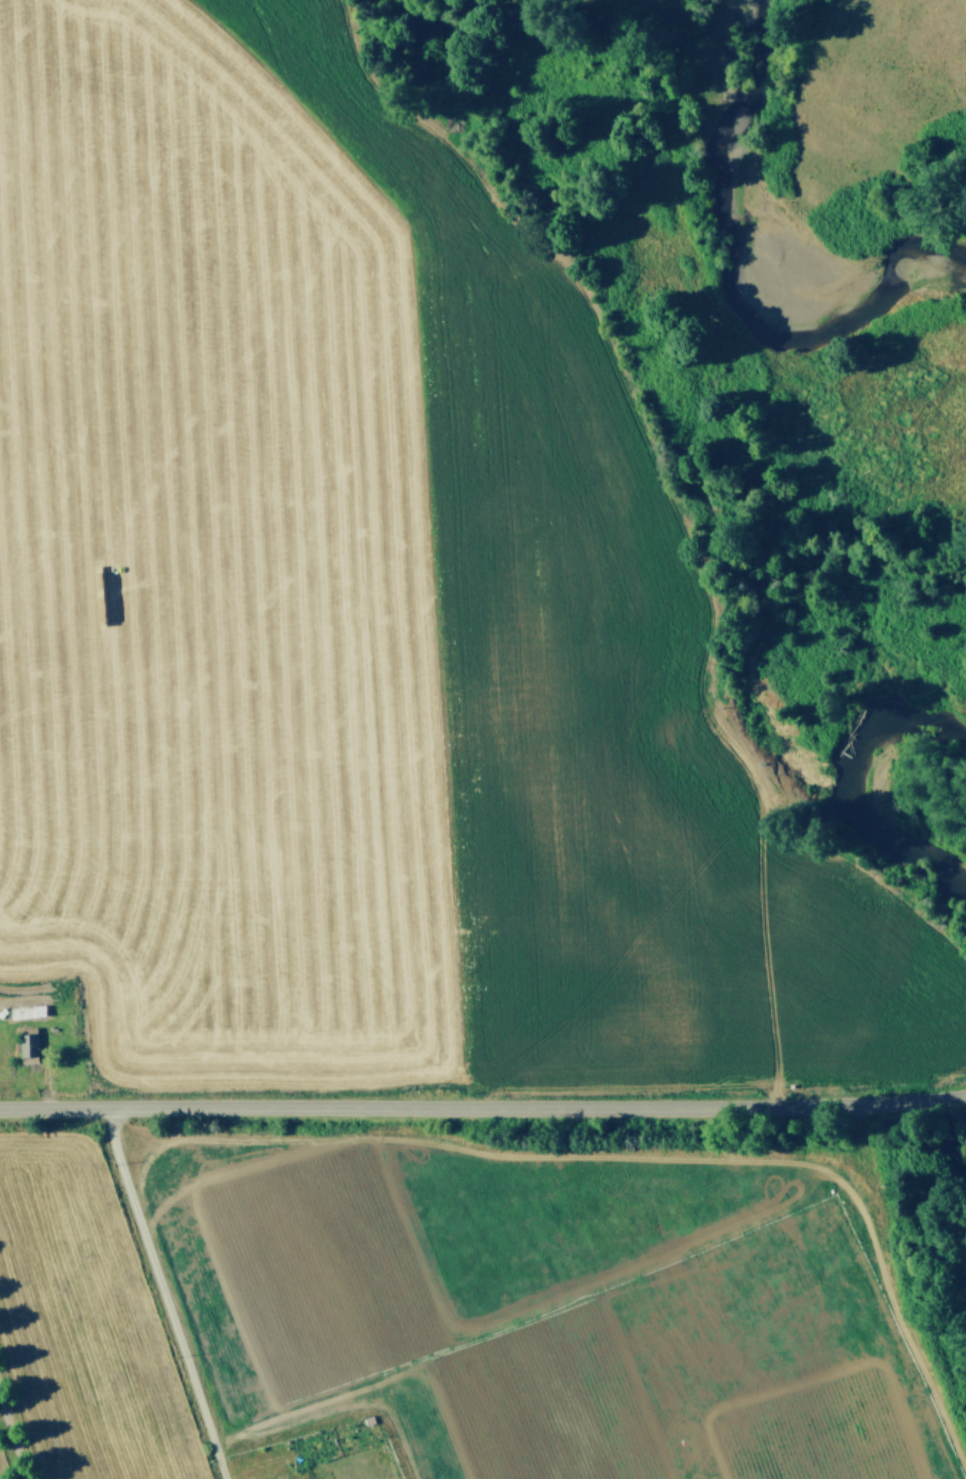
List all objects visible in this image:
river: (737, 249)
river: (870, 791)
crop: (384, 844)
building: (26, 1010)
building: (26, 1046)
road: (483, 1105)
road: (166, 1292)
road: (14, 1433)

